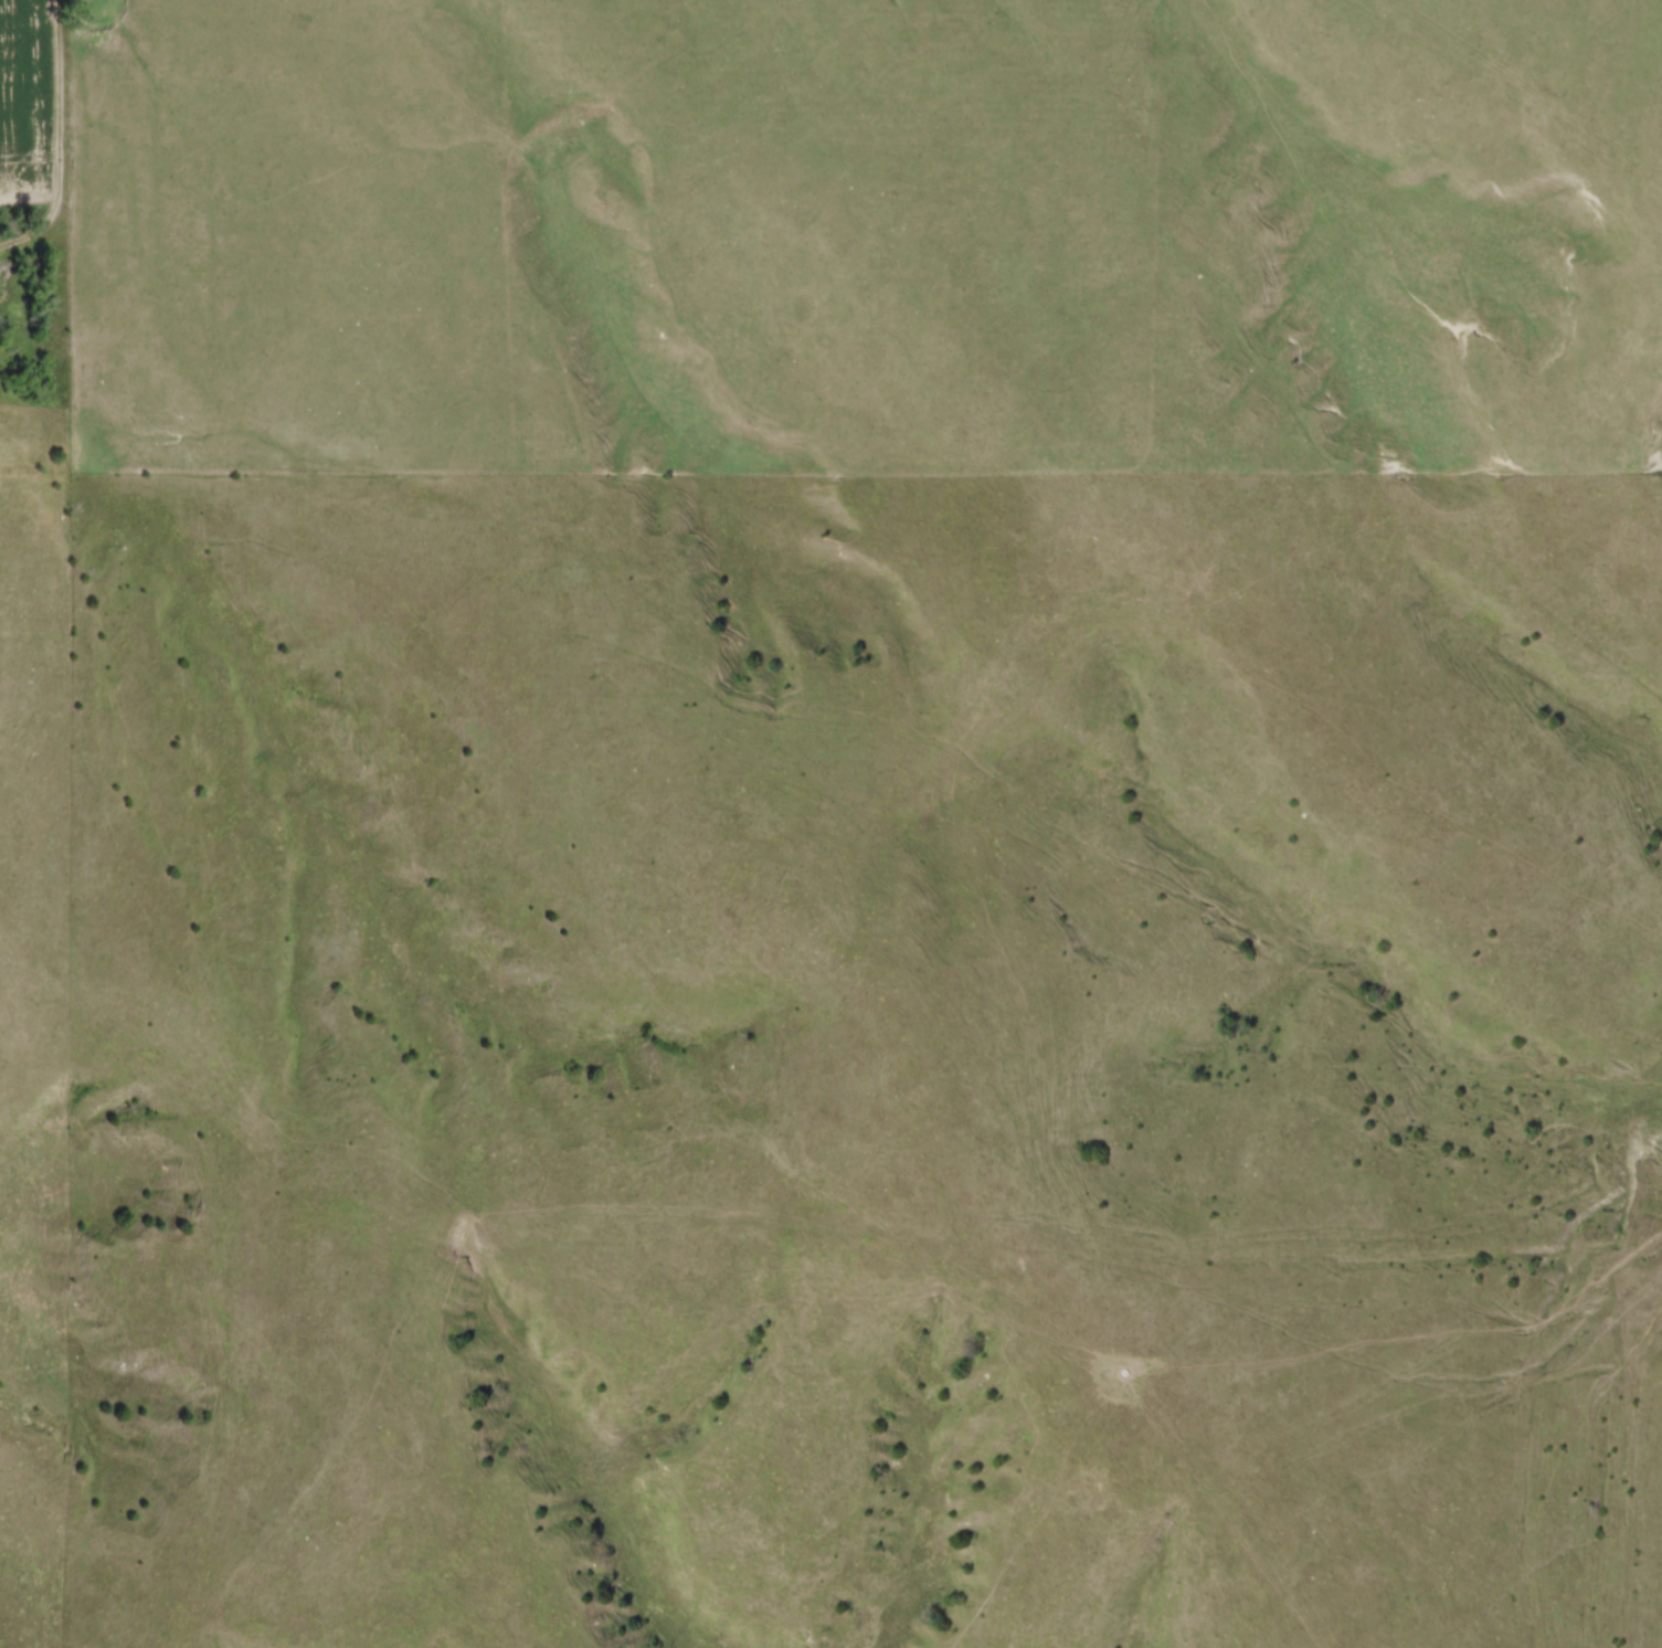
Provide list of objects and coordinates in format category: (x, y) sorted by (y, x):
road: (63, 138)

